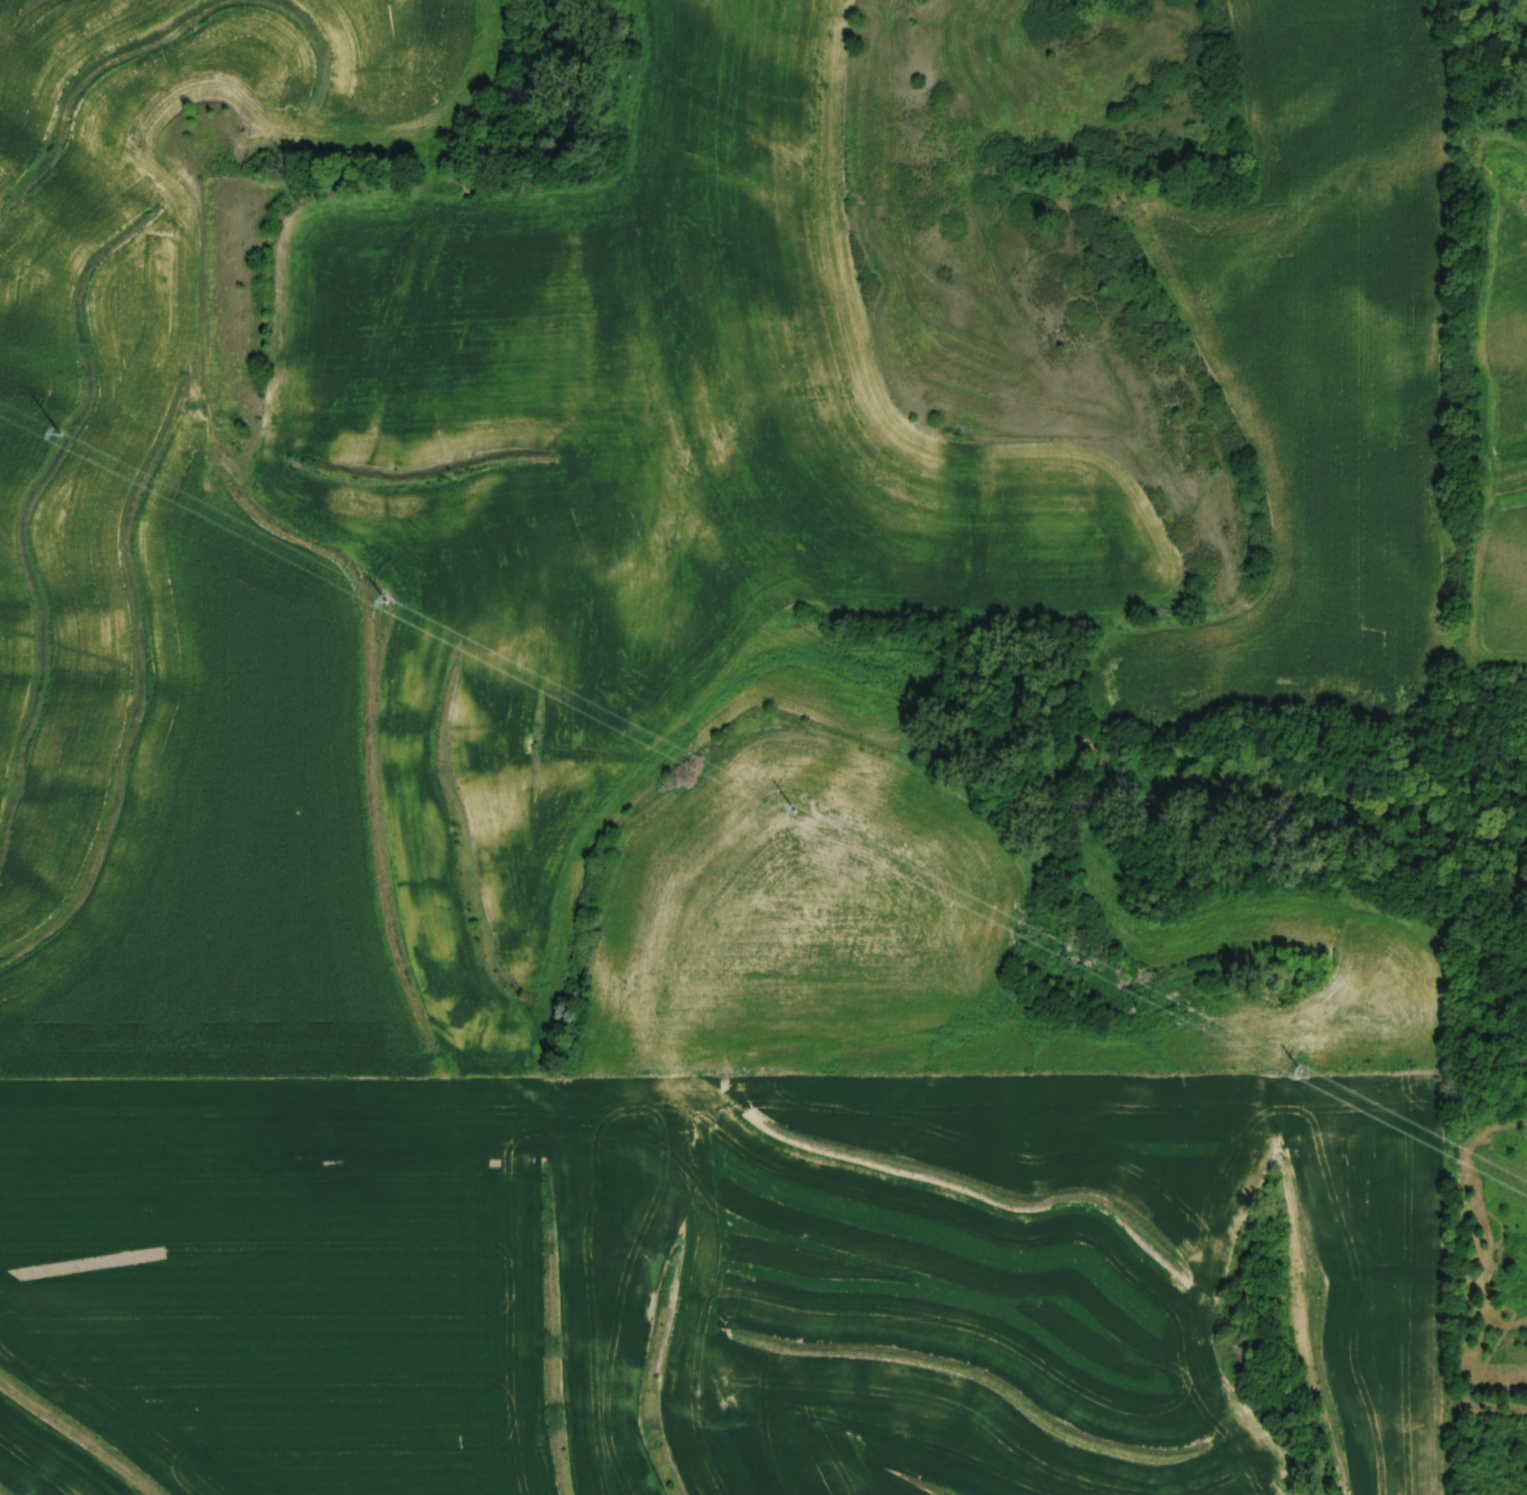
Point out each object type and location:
power tower: (63, 434)
power tower: (389, 602)
power tower: (796, 811)
power tower: (1303, 1071)

